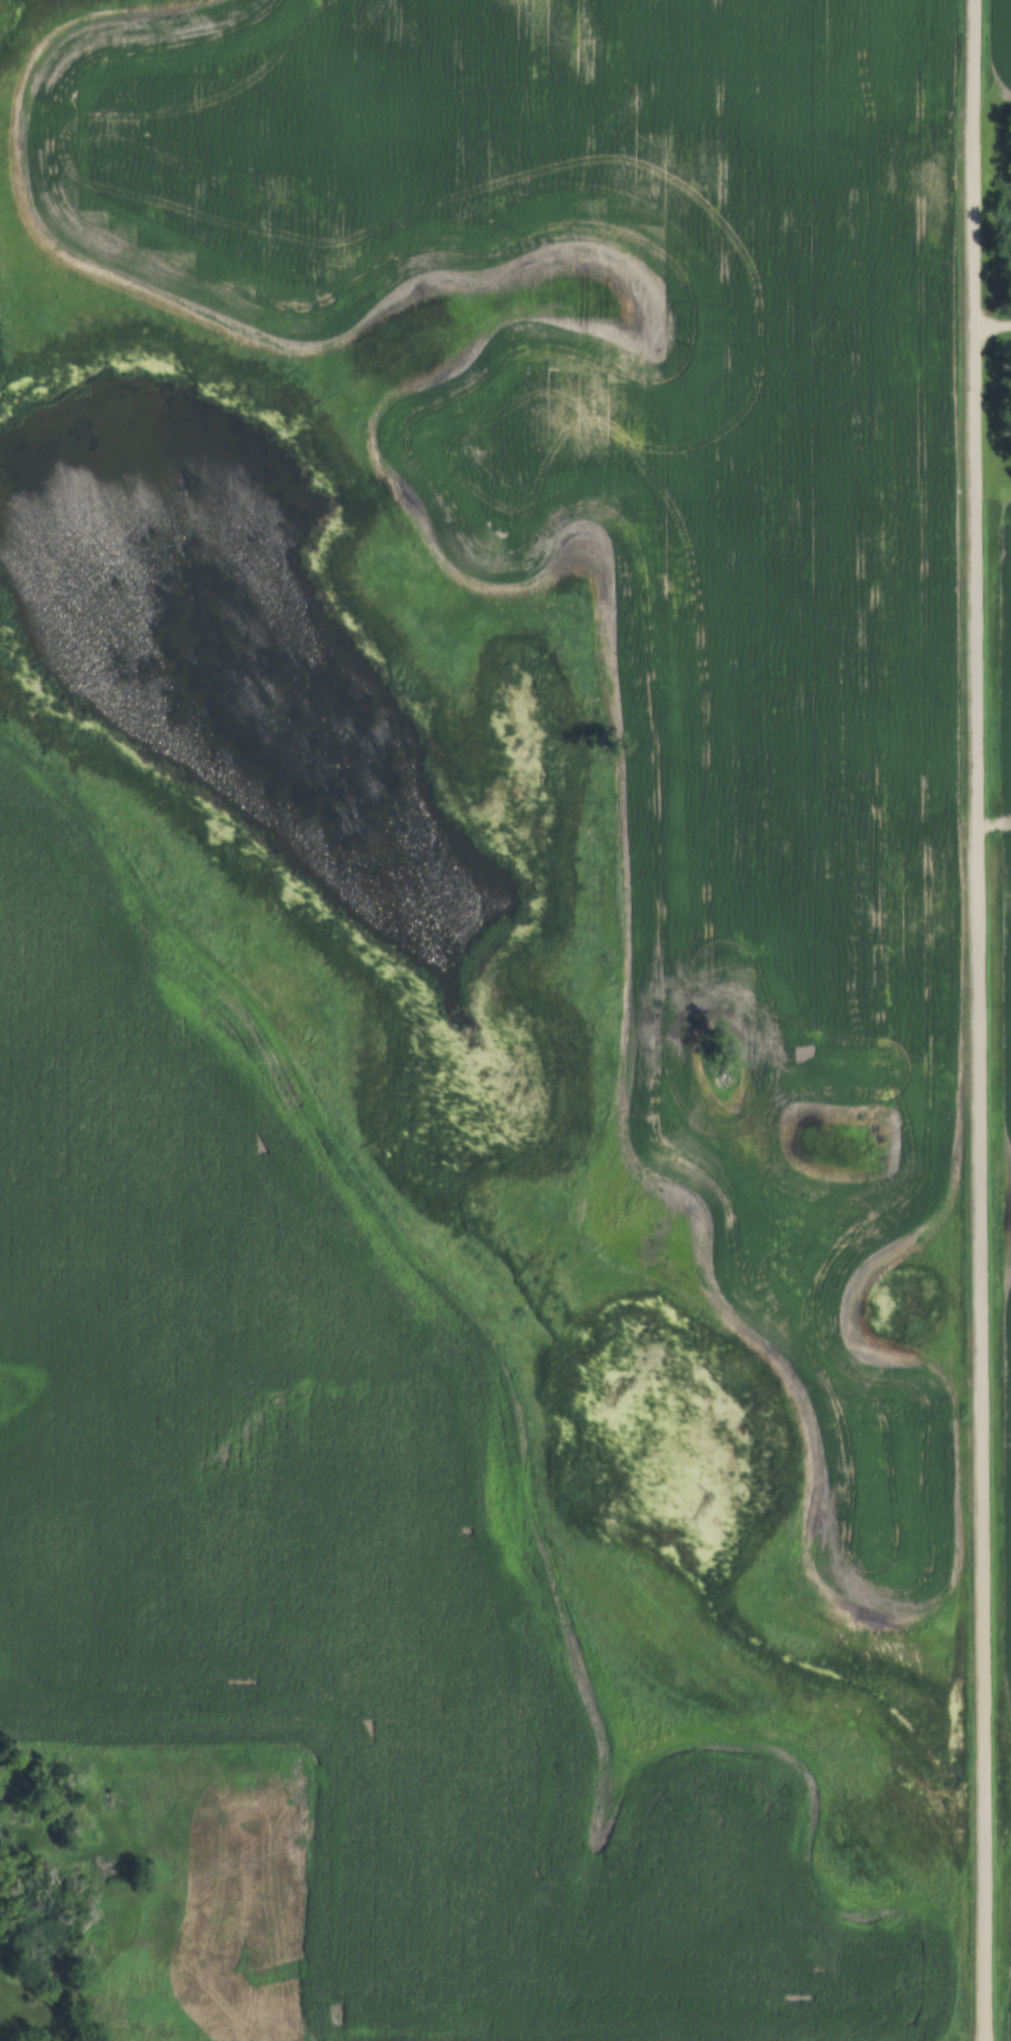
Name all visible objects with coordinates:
road: (993, 334)
road: (982, 1020)

